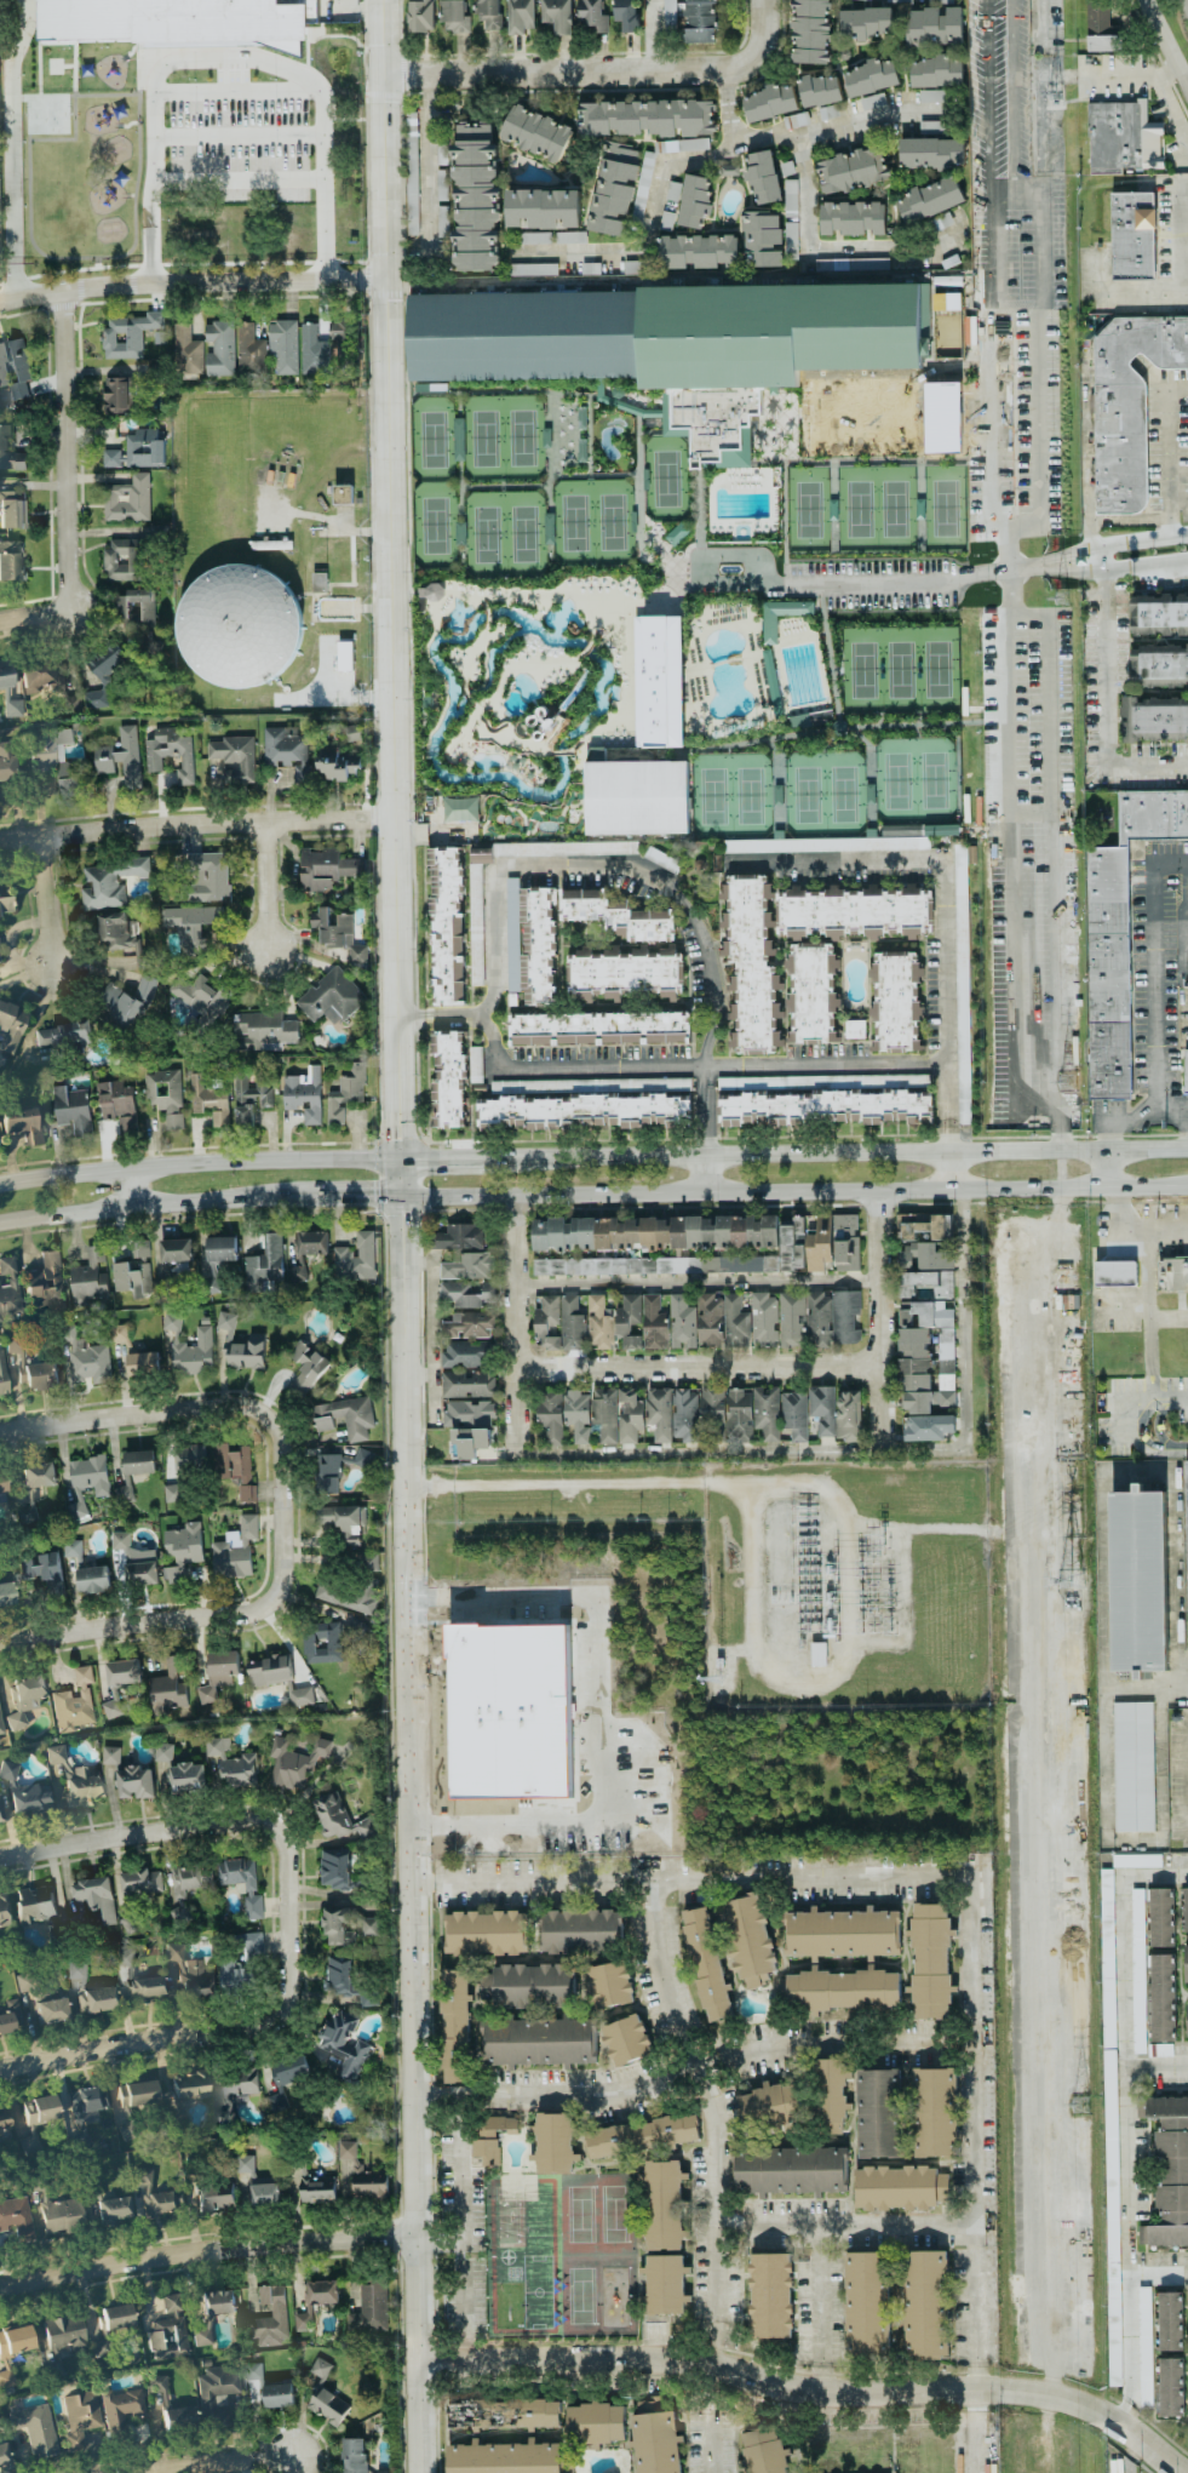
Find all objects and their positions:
building: (868, 0)
building: (939, 1)
road: (1184, 5)
building: (668, 13)
building: (488, 15)
building: (557, 15)
building: (591, 15)
building: (625, 15)
building: (420, 16)
building: (454, 16)
building: (521, 16)
building: (700, 21)
building: (173, 22)
building: (865, 22)
building: (934, 25)
building: (1100, 28)
building: (809, 30)
road: (653, 36)
road: (1163, 48)
road: (228, 59)
road: (734, 68)
building: (935, 70)
road: (517, 73)
road: (1137, 76)
building: (870, 78)
building: (819, 90)
road: (991, 95)
road: (1011, 95)
building: (930, 96)
power tower: (1052, 97)
building: (872, 101)
road: (1173, 101)
building: (769, 102)
road: (730, 103)
building: (647, 118)
building: (535, 132)
road: (237, 133)
building: (1121, 137)
road: (10, 148)
road: (666, 153)
building: (930, 153)
road: (437, 165)
building: (851, 170)
building: (411, 172)
building: (762, 177)
road: (237, 179)
building: (441, 184)
building: (672, 190)
road: (1016, 190)
building: (475, 198)
building: (790, 198)
building: (929, 200)
building: (694, 201)
building: (544, 207)
building: (851, 218)
building: (442, 221)
building: (1132, 235)
building: (569, 236)
building: (535, 237)
building: (790, 237)
building: (762, 239)
road: (1177, 245)
road: (823, 246)
building: (442, 248)
building: (698, 251)
road: (587, 252)
building: (850, 264)
building: (590, 268)
building: (533, 269)
road: (191, 280)
building: (127, 334)
building: (343, 339)
building: (668, 343)
building: (282, 347)
building: (219, 348)
building: (249, 349)
building: (186, 350)
building: (312, 351)
building: (13, 367)
road: (67, 383)
building: (115, 394)
building: (1127, 402)
park: (503, 437)
park: (432, 439)
road: (1040, 440)
road: (993, 447)
building: (136, 451)
road: (1165, 451)
building: (10, 456)
road: (1085, 460)
park: (664, 477)
building: (342, 494)
road: (1177, 498)
building: (127, 499)
park: (877, 508)
building: (11, 510)
park: (592, 521)
park: (434, 525)
building: (676, 533)
park: (504, 534)
road: (1136, 540)
building: (124, 560)
building: (11, 561)
road: (1144, 566)
road: (70, 577)
road: (846, 580)
building: (317, 582)
building: (432, 591)
power tower: (1062, 603)
building: (134, 606)
building: (1158, 614)
building: (239, 625)
building: (768, 630)
building: (343, 656)
building: (1159, 665)
road: (1049, 666)
building: (102, 675)
building: (5, 677)
building: (36, 677)
building: (658, 681)
building: (12, 706)
road: (1101, 708)
building: (1154, 719)
road: (1000, 731)
building: (352, 732)
building: (170, 751)
building: (286, 751)
building: (596, 754)
building: (234, 756)
building: (120, 757)
building: (53, 758)
building: (335, 761)
building: (7, 762)
park: (914, 779)
park: (823, 792)
park: (730, 795)
building: (635, 797)
building: (459, 809)
road: (194, 820)
building: (825, 845)
building: (563, 848)
building: (480, 855)
building: (661, 860)
building: (326, 868)
building: (207, 876)
building: (108, 882)
road: (946, 882)
road: (265, 885)
road: (489, 891)
road: (47, 900)
building: (5, 906)
building: (853, 911)
building: (616, 914)
building: (475, 922)
building: (190, 923)
building: (446, 926)
building: (115, 931)
building: (511, 932)
building: (337, 933)
building: (1119, 934)
road: (1187, 937)
road: (1054, 938)
building: (538, 946)
road: (710, 955)
building: (750, 961)
building: (621, 973)
building: (962, 981)
building: (811, 991)
building: (199, 997)
building: (329, 997)
road: (1012, 998)
building: (895, 1001)
building: (124, 1006)
road: (1158, 1013)
road: (409, 1014)
building: (11, 1026)
building: (597, 1029)
building: (853, 1029)
building: (262, 1030)
building: (62, 1036)
building: (475, 1064)
road: (826, 1066)
road: (574, 1069)
building: (1184, 1071)
building: (448, 1078)
building: (820, 1081)
power tower: (1067, 1082)
building: (589, 1084)
building: (345, 1093)
building: (303, 1094)
building: (163, 1095)
building: (249, 1097)
building: (208, 1098)
building: (116, 1104)
road: (1187, 1104)
building: (823, 1107)
building: (71, 1110)
building: (582, 1110)
road: (1186, 1114)
road: (701, 1122)
building: (23, 1126)
road: (1057, 1132)
road: (951, 1137)
traffic signals: (397, 1138)
road: (894, 1154)
road: (543, 1158)
road: (441, 1160)
traffic signals: (429, 1161)
road: (197, 1166)
road: (1107, 1168)
road: (951, 1170)
road: (702, 1173)
road: (128, 1186)
road: (792, 1190)
road: (352, 1195)
traffic signals: (371, 1195)
road: (153, 1202)
traffic signals: (398, 1215)
road: (1166, 1231)
building: (655, 1232)
road: (398, 1236)
building: (457, 1237)
building: (311, 1242)
building: (845, 1242)
building: (920, 1242)
building: (791, 1244)
building: (819, 1244)
building: (176, 1253)
building: (216, 1258)
building: (355, 1258)
building: (263, 1261)
building: (654, 1265)
building: (467, 1266)
building: (1114, 1273)
building: (1172, 1273)
building: (132, 1275)
building: (88, 1277)
road: (693, 1283)
building: (45, 1286)
building: (8, 1288)
building: (466, 1294)
road: (1146, 1309)
road: (1166, 1316)
building: (819, 1318)
building: (708, 1319)
building: (763, 1319)
building: (171, 1321)
building: (225, 1321)
building: (627, 1321)
building: (681, 1322)
building: (735, 1322)
building: (558, 1323)
building: (598, 1323)
building: (653, 1323)
road: (876, 1323)
road: (512, 1324)
building: (467, 1326)
building: (119, 1333)
building: (925, 1340)
building: (245, 1352)
building: (193, 1353)
building: (465, 1355)
road: (964, 1356)
building: (87, 1362)
building: (142, 1363)
building: (306, 1367)
building: (31, 1368)
road: (695, 1369)
building: (2, 1376)
building: (466, 1384)
building: (711, 1404)
building: (821, 1408)
building: (765, 1412)
building: (658, 1413)
building: (469, 1414)
building: (591, 1414)
building: (684, 1414)
building: (738, 1414)
building: (794, 1414)
building: (627, 1415)
building: (848, 1415)
building: (344, 1416)
road: (91, 1419)
building: (549, 1419)
building: (928, 1427)
building: (470, 1441)
road: (1136, 1443)
road: (698, 1453)
building: (363, 1456)
building: (138, 1461)
building: (234, 1469)
building: (184, 1470)
road: (1138, 1471)
building: (327, 1472)
building: (88, 1473)
building: (2, 1483)
building: (35, 1484)
building: (124, 1490)
building: (1187, 1499)
road: (845, 1510)
building: (342, 1523)
building: (119, 1540)
power tower: (884, 1540)
building: (182, 1549)
building: (235, 1550)
building: (73, 1551)
building: (44, 1570)
building: (133, 1570)
building: (92, 1579)
power tower: (1071, 1581)
building: (1138, 1582)
power substation: (846, 1585)
building: (6, 1595)
building: (345, 1596)
power tower: (891, 1597)
road: (271, 1598)
road: (421, 1603)
road: (794, 1614)
power tower: (891, 1626)
building: (323, 1643)
building: (434, 1672)
building: (459, 1672)
building: (217, 1673)
building: (277, 1677)
road: (590, 1681)
building: (168, 1683)
building: (113, 1685)
road: (1173, 1687)
building: (24, 1699)
building: (74, 1702)
building: (0, 1729)
building: (162, 1752)
building: (54, 1754)
building: (620, 1754)
building: (292, 1762)
building: (230, 1764)
building: (1132, 1765)
building: (7, 1770)
building: (553, 1774)
building: (625, 1774)
building: (128, 1775)
building: (482, 1775)
building: (186, 1776)
building: (80, 1787)
building: (682, 1792)
building: (28, 1801)
building: (625, 1802)
building: (553, 1803)
building: (482, 1804)
building: (332, 1815)
building: (0, 1816)
building: (625, 1820)
building: (553, 1821)
building: (483, 1822)
road: (190, 1824)
building: (365, 1827)
road: (1107, 1841)
building: (567, 1849)
building: (1135, 1860)
building: (334, 1867)
road: (941, 1877)
road: (421, 1884)
building: (184, 1888)
building: (249, 1889)
building: (134, 1894)
building: (94, 1897)
building: (34, 1904)
building: (1184, 1907)
building: (4, 1912)
building: (1160, 1917)
building: (348, 1924)
building: (580, 1930)
building: (486, 1933)
building: (840, 1933)
building: (747, 1939)
building: (122, 1957)
building: (929, 1962)
building: (1186, 1962)
building: (706, 1964)
building: (241, 1968)
building: (1137, 1970)
building: (76, 1971)
building: (185, 1975)
building: (338, 1976)
building: (609, 1983)
building: (527, 1986)
building: (145, 1988)
building: (837, 1991)
building: (1163, 1997)
building: (96, 2000)
building: (52, 2011)
building: (10, 2017)
building: (455, 2025)
road: (183, 2036)
building: (625, 2039)
building: (538, 2042)
building: (344, 2044)
building: (1159, 2050)
road: (1155, 2055)
road: (722, 2060)
building: (291, 2070)
building: (190, 2089)
building: (137, 2094)
road: (702, 2095)
building: (235, 2096)
building: (830, 2096)
road: (444, 2100)
building: (277, 2102)
building: (770, 2105)
power tower: (1075, 2105)
building: (86, 2106)
building: (40, 2111)
building: (934, 2112)
building: (878, 2113)
road: (1123, 2118)
building: (5, 2125)
building: (1109, 2126)
building: (642, 2135)
building: (489, 2136)
building: (552, 2142)
building: (30, 2143)
building: (243, 2164)
building: (788, 2170)
building: (1167, 2171)
building: (361, 2174)
building: (899, 2187)
building: (316, 2189)
building: (156, 2194)
building: (264, 2194)
building: (216, 2197)
building: (662, 2204)
building: (114, 2210)
building: (62, 2215)
building: (16, 2219)
road: (842, 2227)
road: (458, 2231)
road: (436, 2245)
road: (203, 2250)
road: (1155, 2271)
building: (665, 2284)
road: (813, 2295)
building: (770, 2297)
building: (315, 2301)
building: (924, 2303)
building: (866, 2305)
building: (369, 2309)
building: (277, 2311)
building: (208, 2313)
building: (116, 2318)
building: (1170, 2320)
building: (168, 2329)
building: (64, 2336)
road: (711, 2342)
building: (1144, 2347)
building: (13, 2349)
road: (562, 2360)
building: (318, 2369)
building: (252, 2370)
road: (813, 2375)
road: (975, 2376)
building: (1171, 2387)
road: (842, 2389)
building: (157, 2392)
building: (216, 2394)
building: (277, 2394)
building: (327, 2404)
road: (1089, 2405)
building: (120, 2409)
building: (503, 2414)
building: (80, 2417)
road: (708, 2420)
building: (595, 2423)
building: (35, 2429)
road: (976, 2431)
building: (654, 2437)
road: (1126, 2449)
building: (764, 2451)
building: (4, 2455)
building: (352, 2455)
building: (503, 2457)
road: (219, 2463)

